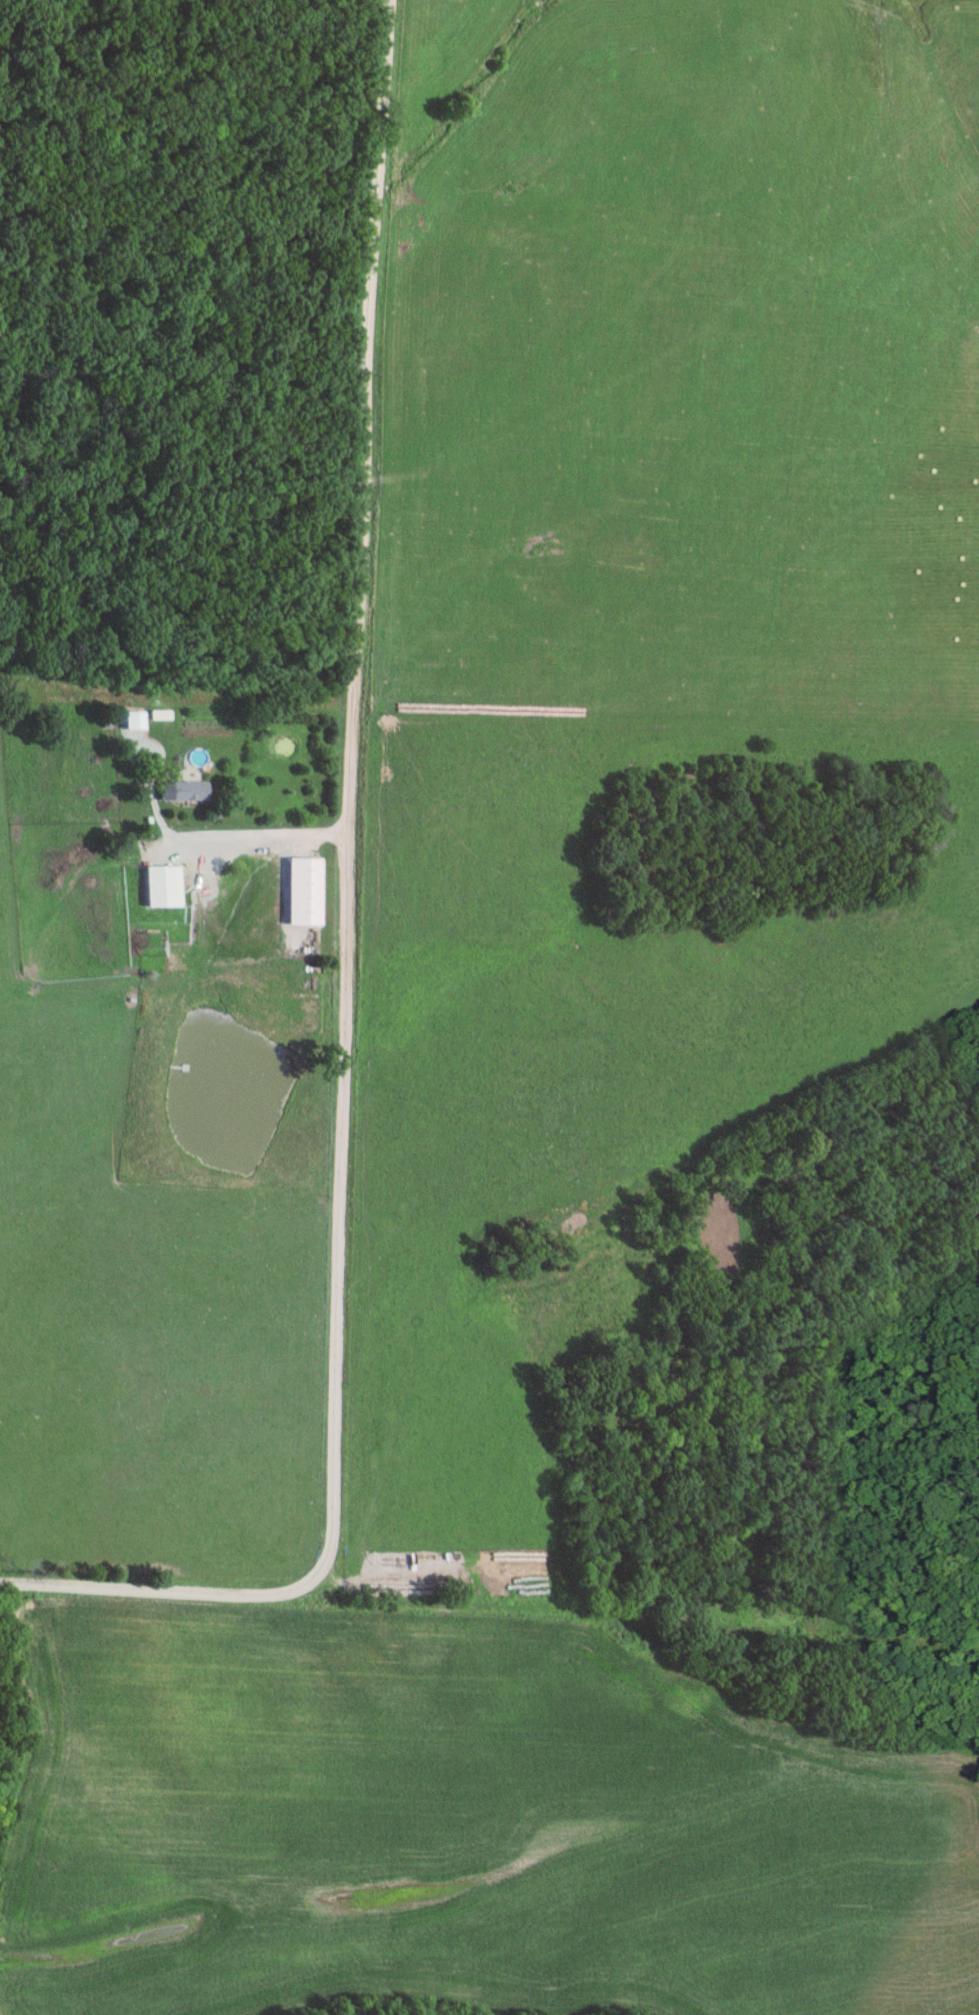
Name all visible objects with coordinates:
building: (162, 714)
building: (136, 719)
building: (191, 788)
road: (240, 832)
building: (166, 884)
building: (307, 889)
road: (344, 948)

